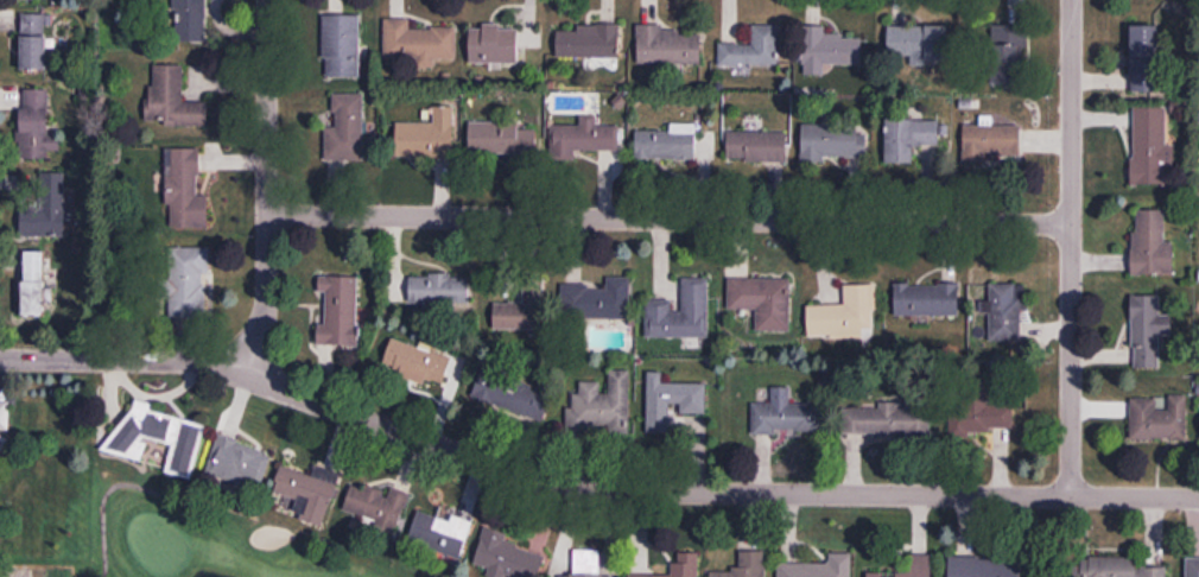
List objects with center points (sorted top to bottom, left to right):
building: (42, 0)
building: (1016, 1)
building: (184, 18)
building: (30, 40)
building: (1146, 42)
building: (920, 43)
building: (590, 44)
building: (418, 46)
building: (495, 46)
building: (670, 47)
building: (342, 49)
building: (754, 51)
building: (1008, 51)
building: (830, 52)
building: (167, 96)
building: (28, 121)
building: (347, 132)
building: (429, 139)
building: (503, 140)
building: (583, 140)
building: (909, 140)
building: (833, 142)
building: (989, 142)
building: (667, 146)
building: (1149, 146)
building: (757, 148)
building: (179, 186)
road: (267, 189)
building: (40, 202)
road: (670, 220)
building: (1152, 245)
road: (1071, 248)
building: (182, 280)
building: (30, 284)
building: (440, 291)
building: (927, 300)
building: (597, 302)
building: (763, 303)
building: (334, 307)
building: (1004, 311)
building: (681, 315)
building: (518, 317)
building: (845, 317)
building: (1147, 331)
building: (418, 364)
building: (513, 395)
building: (672, 402)
building: (603, 408)
building: (788, 417)
building: (981, 419)
building: (888, 420)
building: (1159, 420)
building: (4, 424)
building: (156, 437)
building: (236, 462)
road: (113, 484)
road: (589, 490)
building: (306, 492)
building: (372, 503)
park: (372, 509)
building: (436, 532)
building: (505, 553)
building: (685, 562)
building: (743, 565)
building: (816, 566)
building: (981, 566)
building: (1192, 566)
building: (907, 568)
building: (1105, 568)
building: (583, 576)

